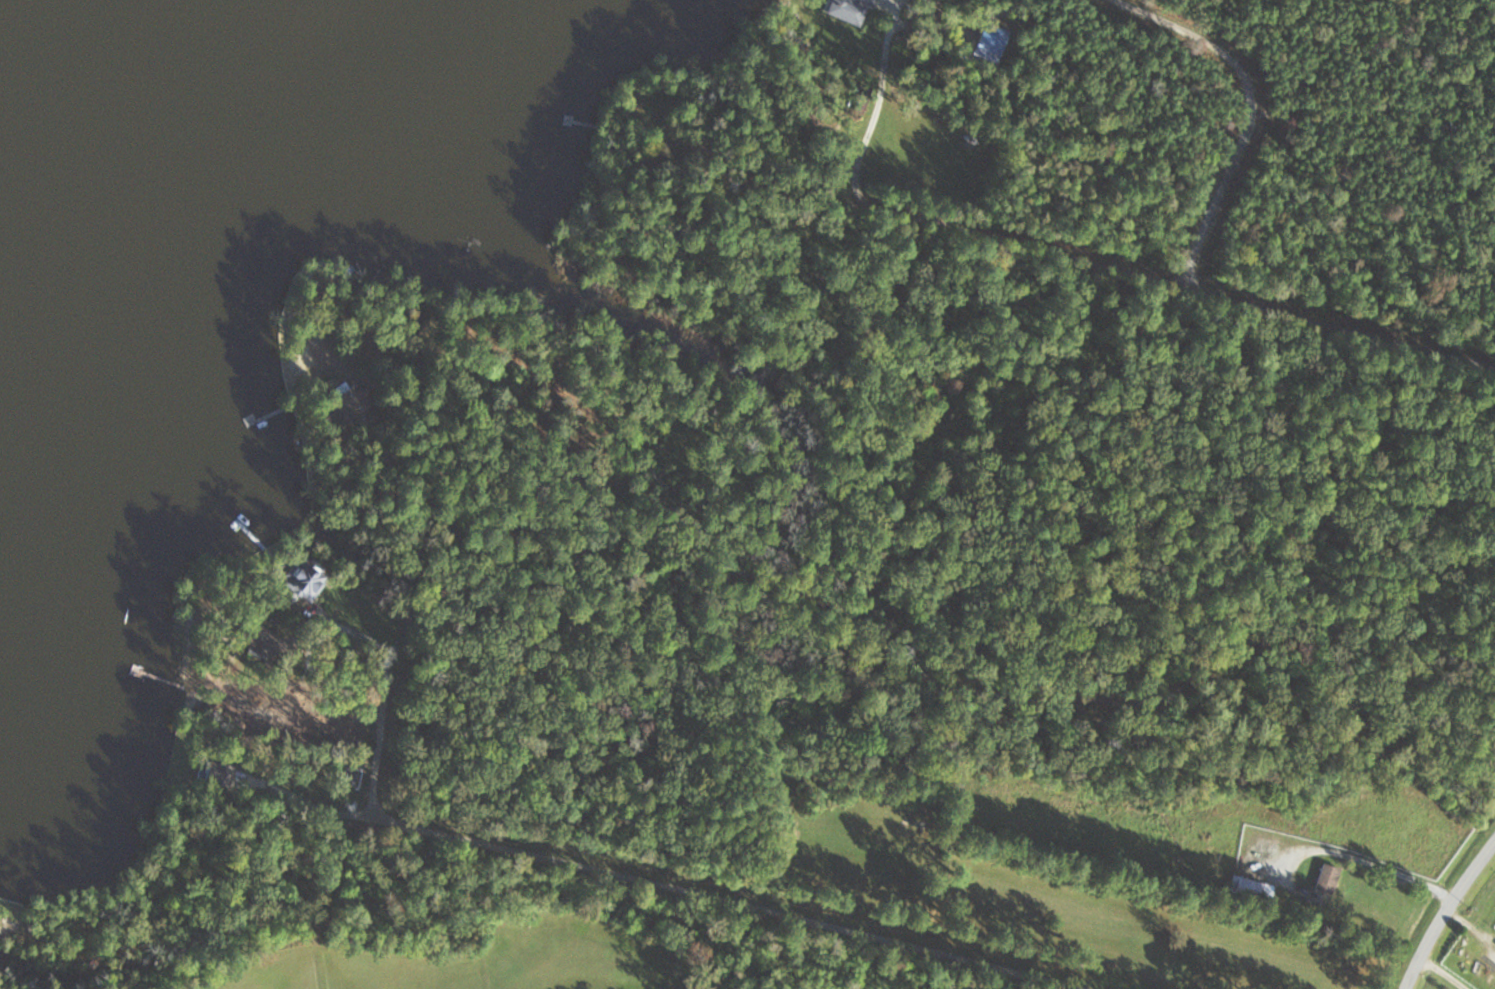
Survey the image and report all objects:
building: (844, 12)
road: (1102, 264)
building: (342, 405)
building: (298, 579)
road: (350, 630)
road: (308, 802)
road: (1355, 853)
building: (1326, 875)
building: (1247, 886)
road: (646, 889)
road: (1444, 910)
road: (1444, 973)

